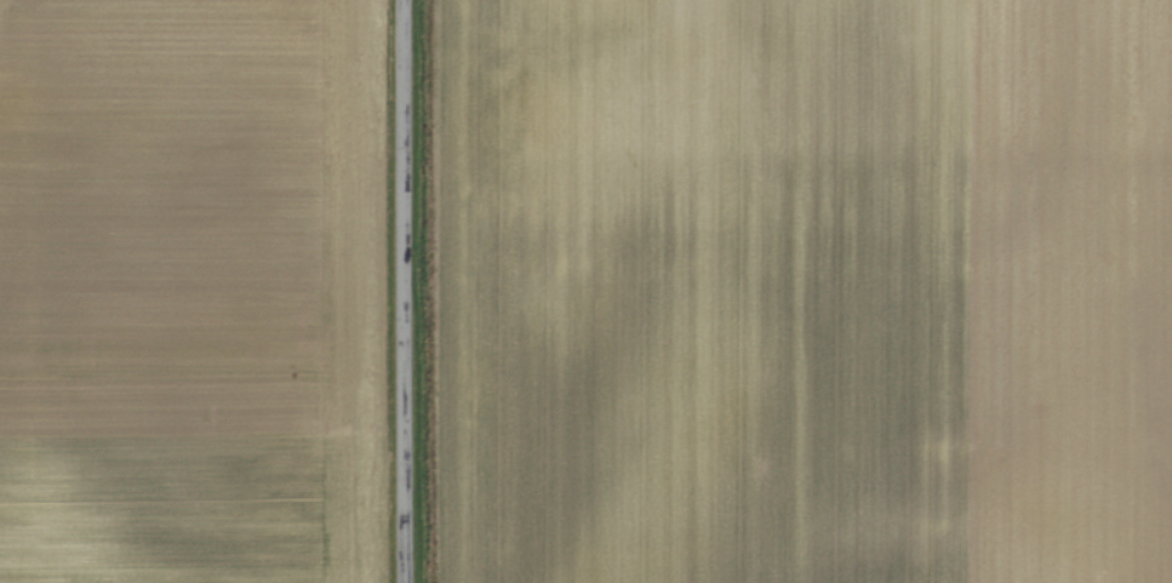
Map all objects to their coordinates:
road: (400, 291)

